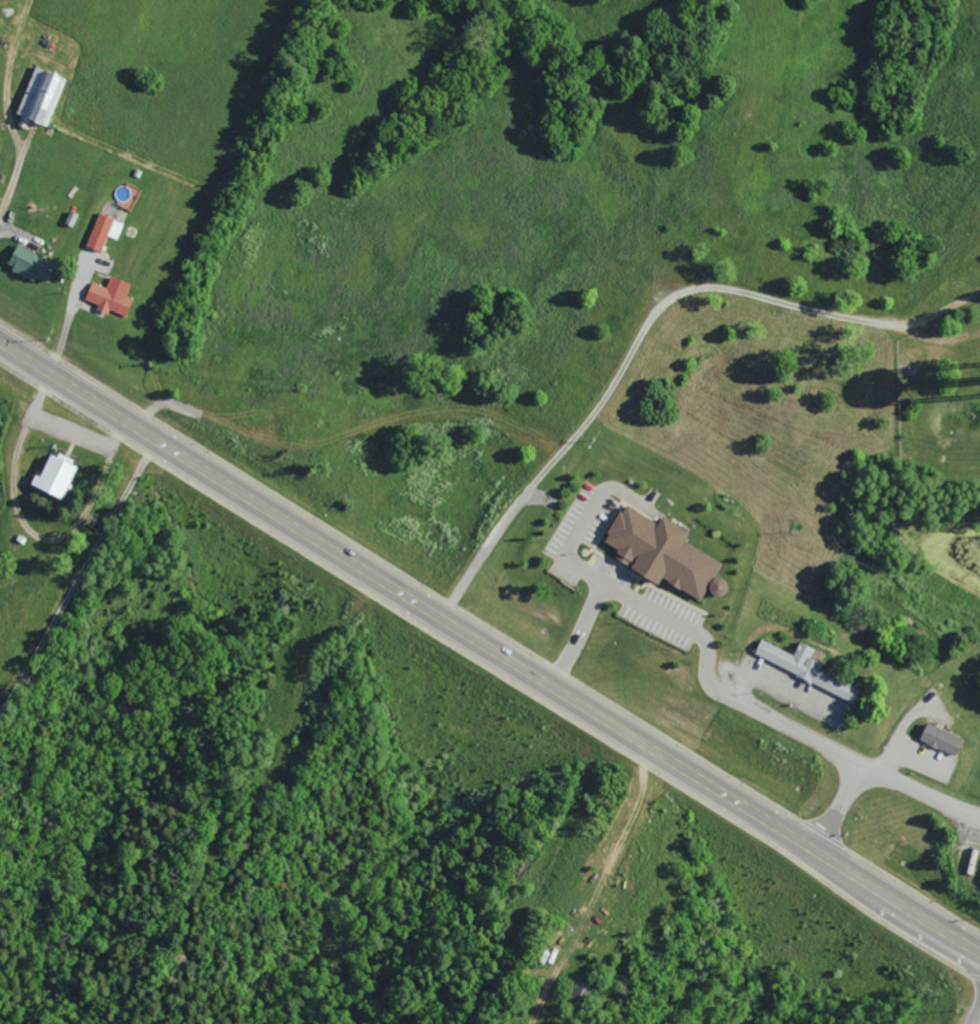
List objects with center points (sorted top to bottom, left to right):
building: (39, 95)
building: (103, 231)
building: (29, 263)
building: (109, 295)
road: (114, 413)
building: (53, 475)
building: (636, 553)
road: (624, 593)
road: (577, 636)
building: (803, 669)
road: (601, 724)
road: (788, 731)
building: (936, 739)
road: (878, 778)
road: (506, 873)
building: (580, 992)
road: (967, 996)

